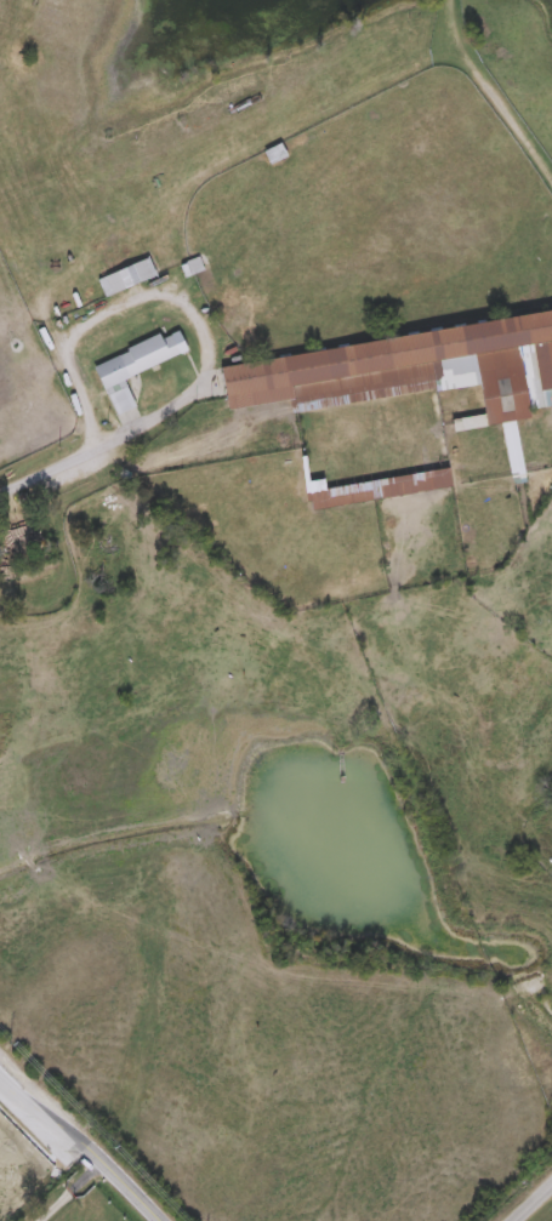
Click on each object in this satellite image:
road: (171, 292)
building: (141, 360)
building: (410, 375)
building: (121, 403)
road: (56, 470)
building: (434, 480)
building: (314, 489)
road: (75, 1142)
road: (66, 1192)
road: (531, 1202)

